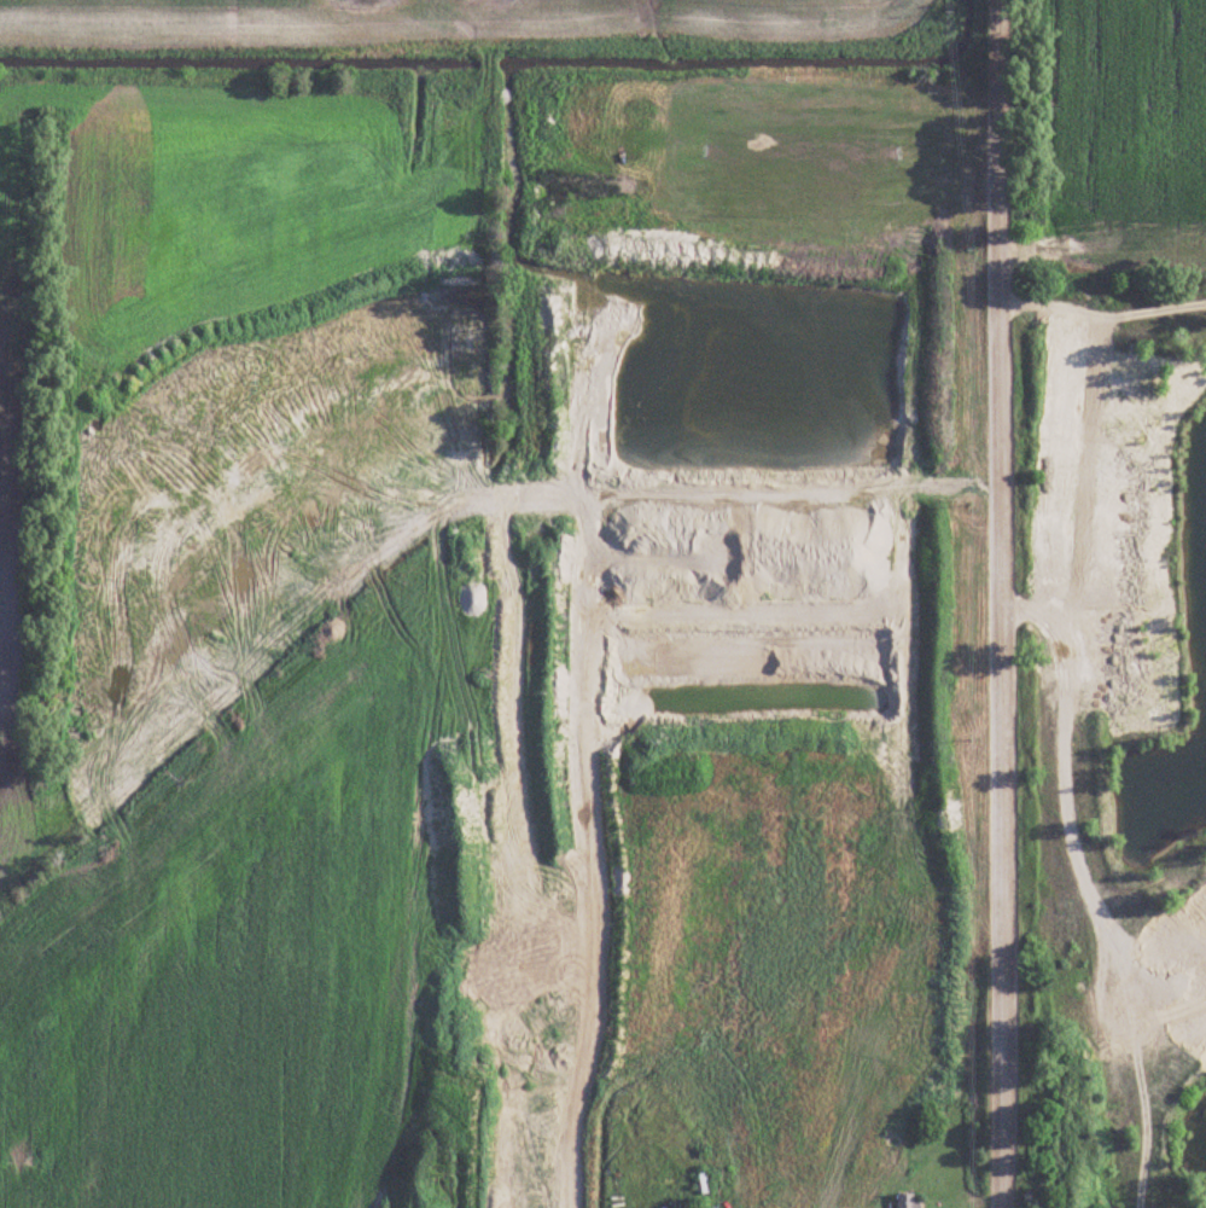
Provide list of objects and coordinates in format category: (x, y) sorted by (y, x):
road: (1100, 307)
road: (1003, 603)
building: (907, 1200)

